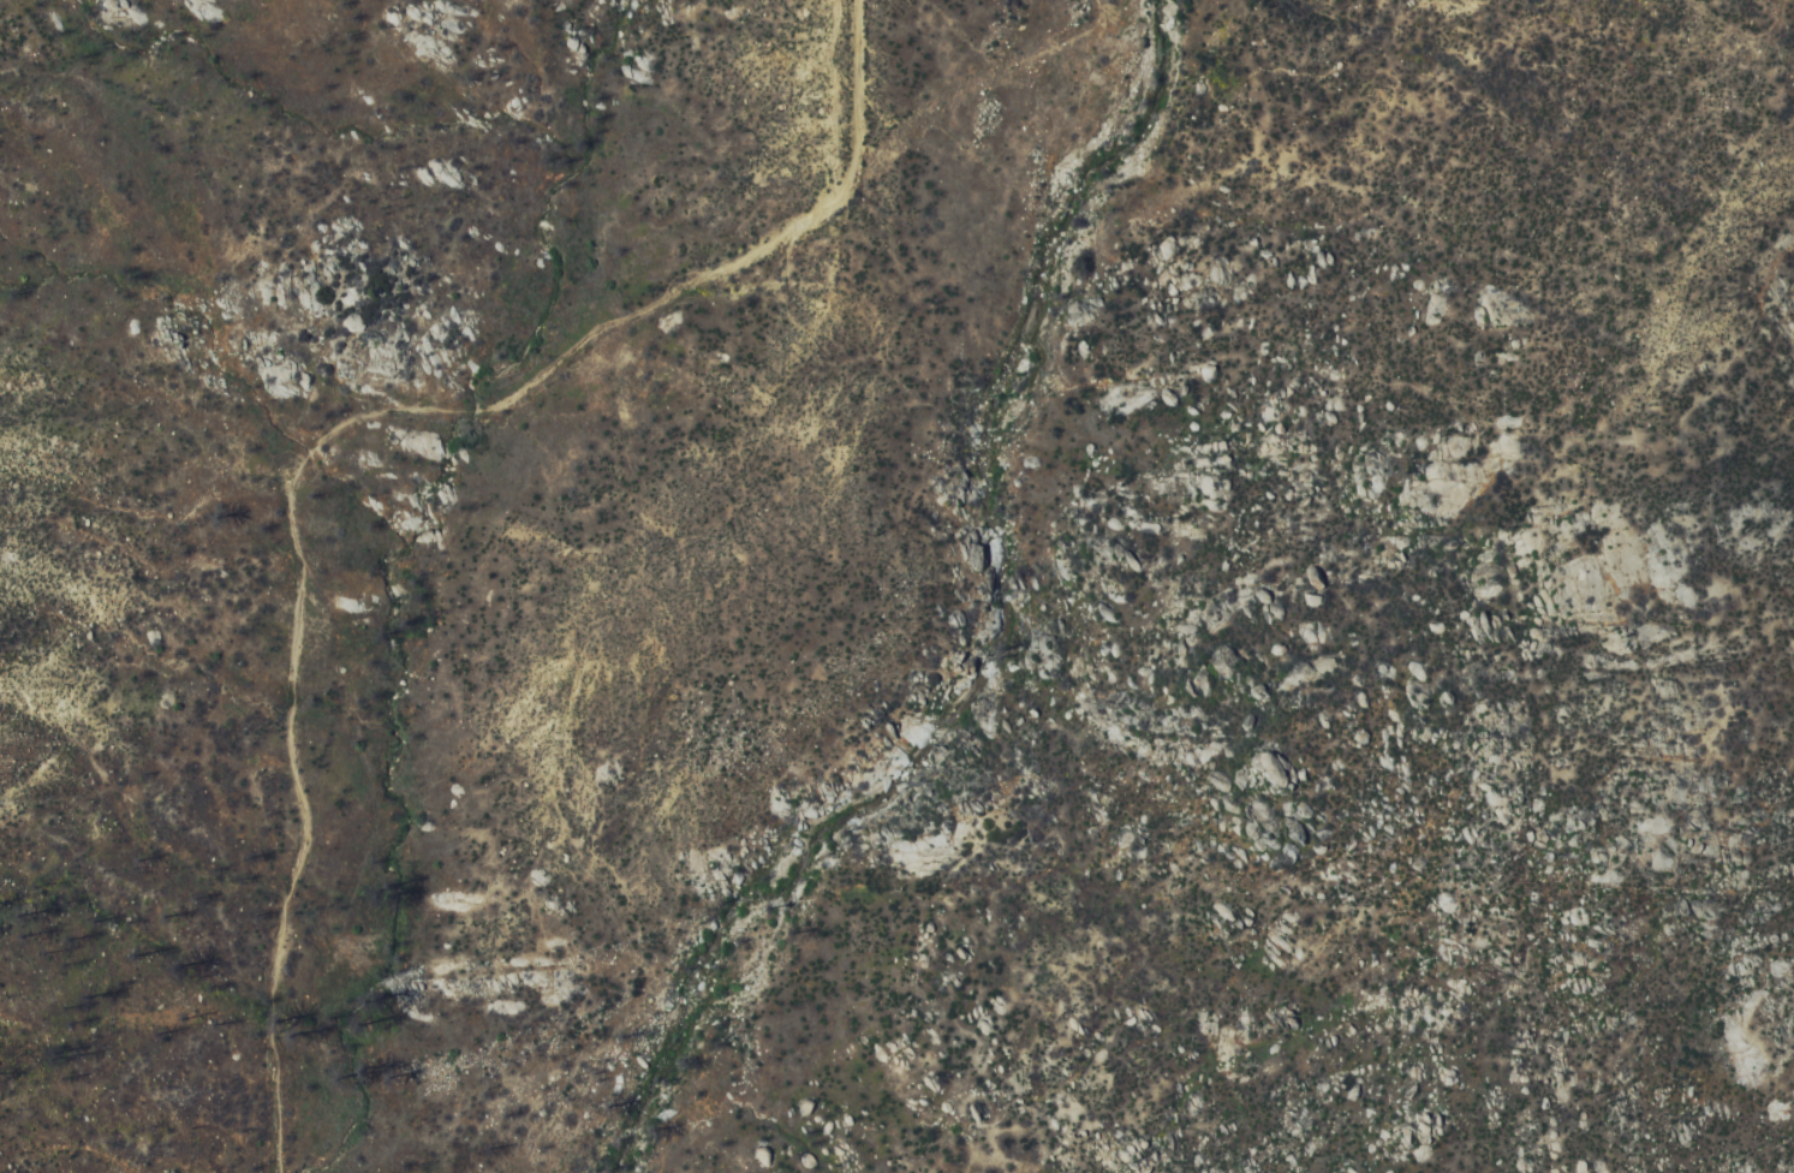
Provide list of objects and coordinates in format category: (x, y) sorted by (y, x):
road: (330, 422)

